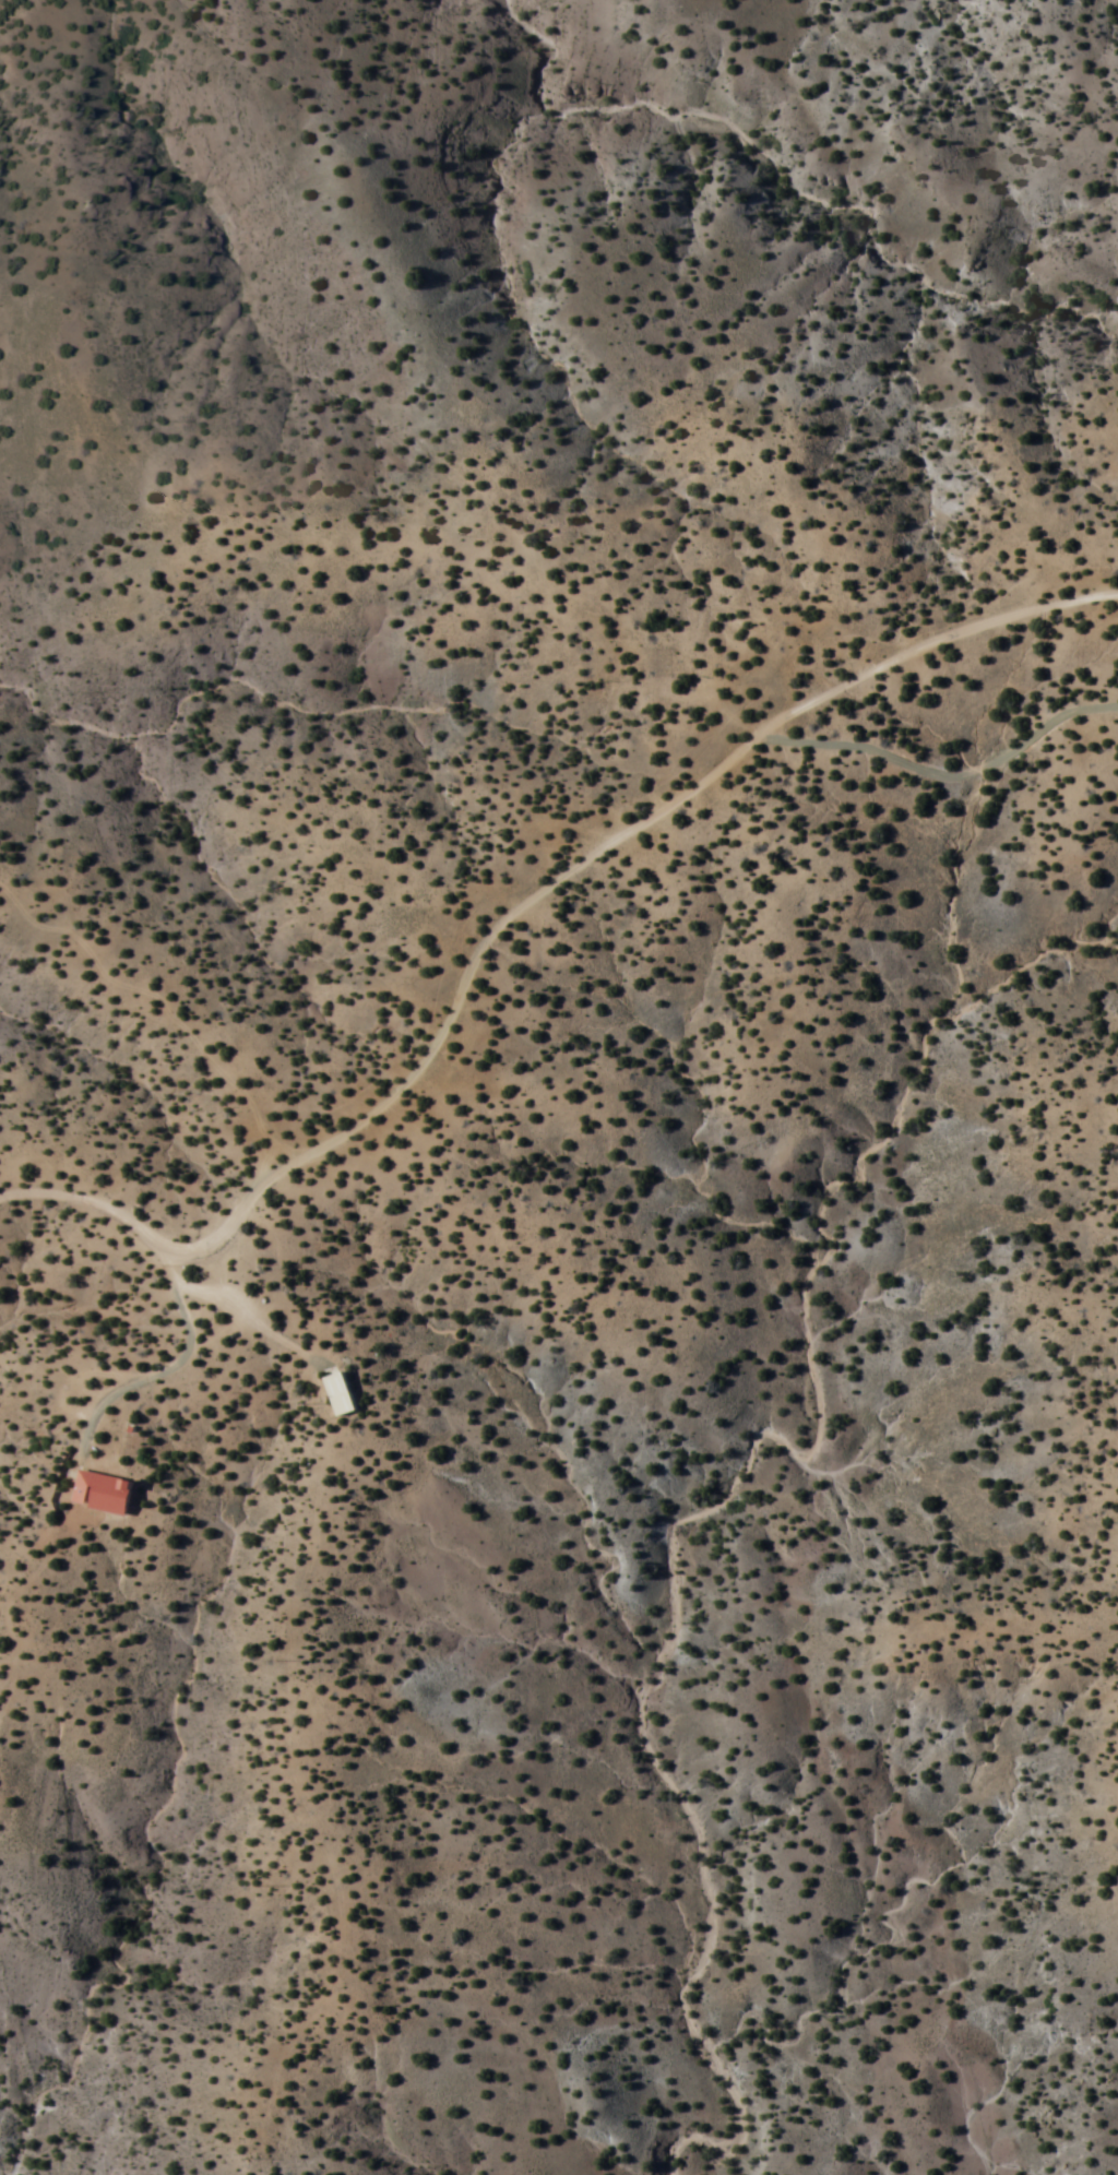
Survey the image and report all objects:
road: (512, 905)
building: (338, 1394)
road: (338, 1475)
building: (102, 1493)

